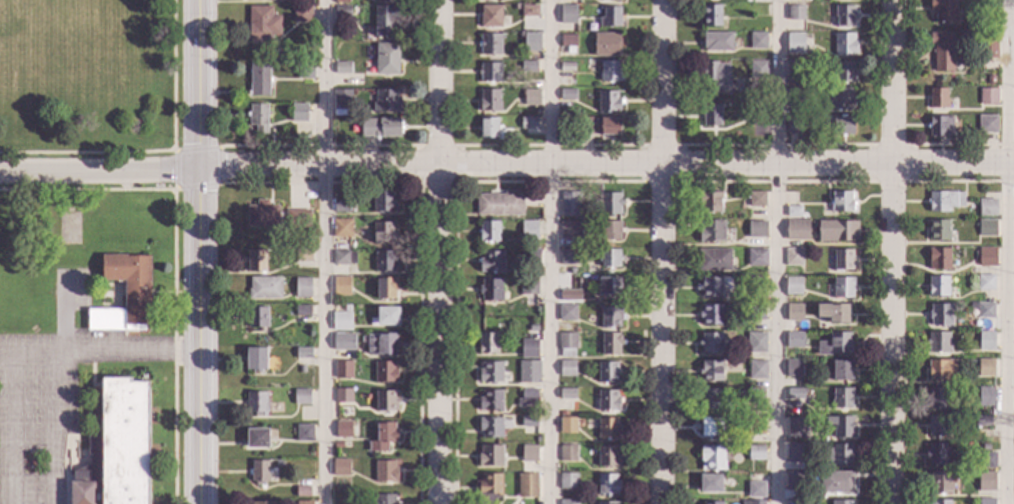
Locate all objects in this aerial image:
building: (500, 0)
building: (605, 0)
building: (845, 0)
building: (260, 1)
building: (341, 1)
building: (987, 4)
park: (56, 10)
building: (758, 10)
building: (944, 10)
building: (529, 11)
building: (569, 11)
building: (796, 13)
building: (301, 14)
building: (341, 14)
building: (844, 15)
building: (491, 16)
building: (712, 16)
building: (610, 18)
building: (385, 21)
building: (262, 24)
building: (717, 41)
building: (758, 41)
building: (531, 43)
building: (794, 43)
building: (568, 44)
building: (606, 44)
building: (844, 44)
building: (490, 45)
building: (988, 45)
building: (942, 51)
building: (387, 59)
building: (528, 67)
building: (567, 67)
building: (342, 68)
building: (798, 68)
building: (758, 70)
building: (304, 71)
building: (489, 72)
building: (610, 72)
building: (843, 72)
building: (716, 77)
park: (89, 78)
building: (259, 80)
building: (991, 81)
road: (200, 84)
building: (795, 94)
building: (567, 95)
building: (341, 96)
building: (988, 96)
building: (531, 98)
building: (841, 99)
building: (938, 99)
building: (489, 100)
building: (386, 101)
building: (608, 102)
building: (298, 113)
building: (757, 113)
building: (711, 115)
building: (258, 118)
building: (528, 123)
building: (988, 124)
building: (598, 126)
building: (843, 126)
building: (940, 126)
building: (792, 127)
building: (380, 128)
building: (488, 128)
road: (607, 165)
road: (100, 169)
building: (756, 199)
building: (944, 201)
building: (383, 202)
building: (710, 202)
building: (841, 202)
building: (499, 204)
building: (570, 204)
building: (610, 204)
building: (341, 207)
building: (987, 208)
building: (793, 212)
building: (262, 215)
building: (297, 218)
building: (342, 227)
building: (987, 228)
building: (529, 230)
building: (569, 230)
building: (610, 230)
building: (757, 230)
building: (797, 230)
building: (711, 231)
building: (837, 231)
building: (938, 231)
building: (489, 232)
building: (384, 233)
building: (311, 241)
road: (322, 251)
road: (894, 251)
road: (1005, 251)
road: (443, 252)
road: (551, 252)
road: (666, 252)
road: (777, 252)
building: (527, 254)
building: (303, 256)
building: (793, 257)
building: (986, 257)
building: (344, 258)
building: (569, 258)
building: (609, 258)
building: (756, 258)
building: (939, 259)
building: (714, 260)
building: (843, 260)
building: (255, 261)
building: (384, 261)
building: (491, 262)
building: (985, 282)
building: (342, 283)
building: (757, 284)
building: (528, 286)
building: (793, 286)
building: (938, 286)
building: (610, 287)
building: (713, 287)
building: (265, 288)
building: (302, 288)
building: (386, 288)
building: (843, 288)
building: (490, 290)
building: (125, 295)
building: (567, 295)
building: (985, 310)
building: (302, 311)
building: (755, 312)
building: (567, 313)
building: (794, 313)
building: (834, 313)
building: (712, 315)
building: (941, 315)
building: (387, 316)
building: (610, 317)
building: (257, 318)
building: (341, 322)
building: (988, 327)
road: (200, 335)
building: (794, 340)
building: (986, 341)
building: (340, 342)
building: (711, 343)
building: (756, 343)
building: (939, 343)
building: (487, 344)
building: (610, 344)
building: (386, 345)
building: (567, 345)
building: (836, 345)
building: (529, 349)
road: (99, 353)
building: (303, 353)
building: (256, 359)
building: (987, 365)
building: (567, 368)
building: (793, 368)
building: (301, 369)
building: (756, 369)
building: (343, 370)
building: (842, 370)
building: (711, 371)
building: (942, 371)
building: (385, 372)
building: (529, 372)
building: (607, 372)
building: (490, 373)
building: (567, 394)
building: (795, 394)
building: (343, 396)
building: (756, 396)
building: (300, 397)
building: (985, 397)
building: (528, 398)
building: (842, 398)
building: (939, 399)
building: (491, 400)
building: (710, 400)
building: (608, 401)
building: (385, 402)
building: (257, 404)
building: (983, 421)
building: (528, 422)
building: (793, 425)
building: (567, 426)
building: (756, 426)
building: (937, 426)
building: (490, 427)
building: (711, 427)
building: (841, 427)
road: (10, 429)
road: (52, 429)
building: (607, 429)
building: (343, 430)
building: (304, 433)
building: (383, 437)
building: (256, 438)
building: (338, 445)
building: (117, 449)
building: (794, 451)
building: (529, 453)
building: (567, 453)
building: (756, 453)
building: (841, 454)
building: (490, 455)
building: (607, 456)
building: (936, 456)
building: (712, 457)
building: (986, 461)
building: (341, 468)
building: (259, 472)
building: (385, 472)
building: (567, 481)
building: (793, 481)
building: (985, 481)
building: (298, 482)
building: (836, 482)
building: (710, 483)
building: (939, 483)
building: (608, 485)
building: (527, 486)
building: (488, 489)
building: (755, 490)
building: (302, 491)
building: (385, 499)
building: (986, 501)
building: (568, 502)
building: (752, 502)
building: (797, 502)
building: (842, 502)
building: (939, 502)
building: (263, 503)
building: (303, 503)
building: (345, 503)
building: (607, 503)
building: (712, 503)

